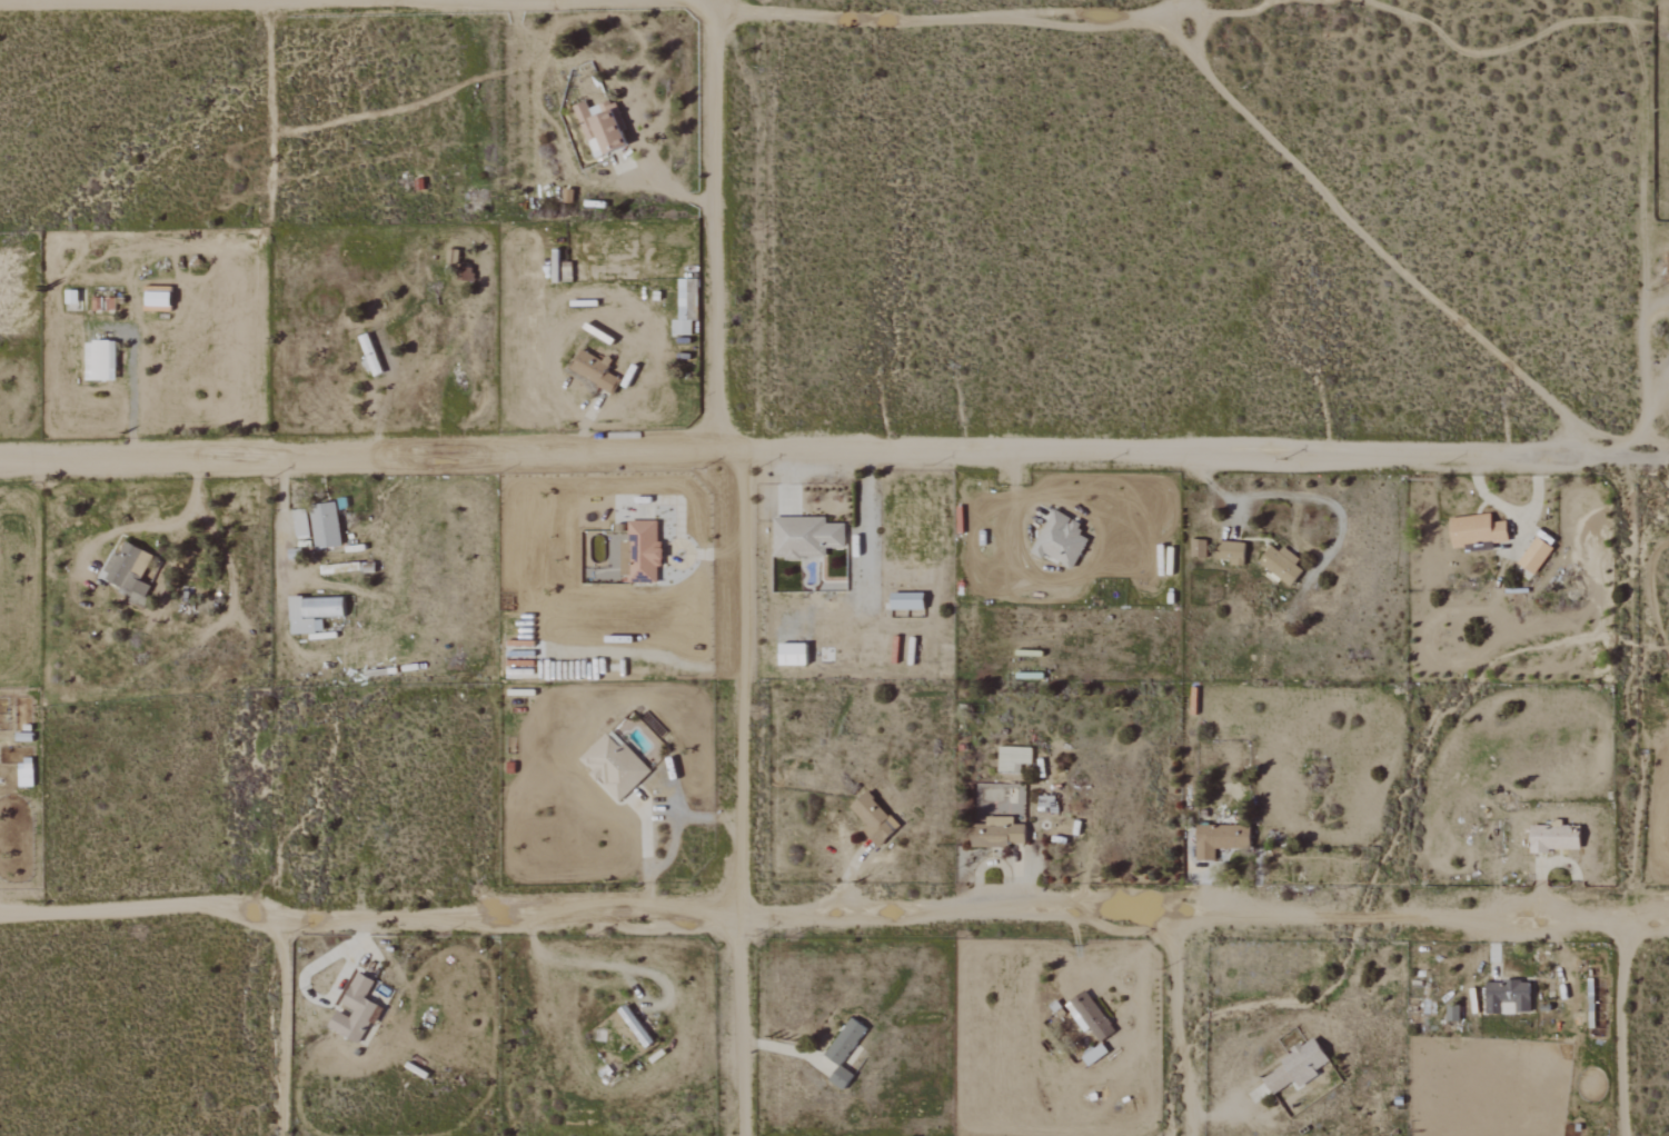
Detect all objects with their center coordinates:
road: (161, 1)
road: (1169, 11)
road: (913, 19)
road: (617, 88)
road: (349, 119)
building: (600, 129)
road: (714, 231)
road: (1374, 247)
building: (158, 301)
building: (683, 328)
building: (371, 356)
building: (101, 361)
road: (1642, 377)
road: (131, 379)
road: (1209, 454)
road: (375, 458)
road: (1261, 495)
building: (301, 522)
building: (326, 526)
building: (1479, 529)
road: (679, 531)
road: (281, 532)
building: (806, 536)
building: (1061, 539)
building: (1232, 551)
building: (642, 554)
building: (1537, 555)
road: (225, 558)
building: (141, 565)
building: (1283, 565)
building: (128, 575)
building: (908, 600)
building: (314, 612)
building: (794, 654)
building: (1014, 759)
building: (615, 766)
building: (26, 774)
road: (742, 791)
building: (874, 818)
road: (646, 824)
building: (1000, 833)
building: (1218, 839)
road: (1203, 911)
road: (367, 924)
road: (559, 959)
road: (302, 980)
building: (1509, 996)
building: (356, 1010)
building: (1089, 1016)
road: (1180, 1024)
road: (286, 1028)
road: (1622, 1029)
building: (845, 1052)
building: (1297, 1068)

